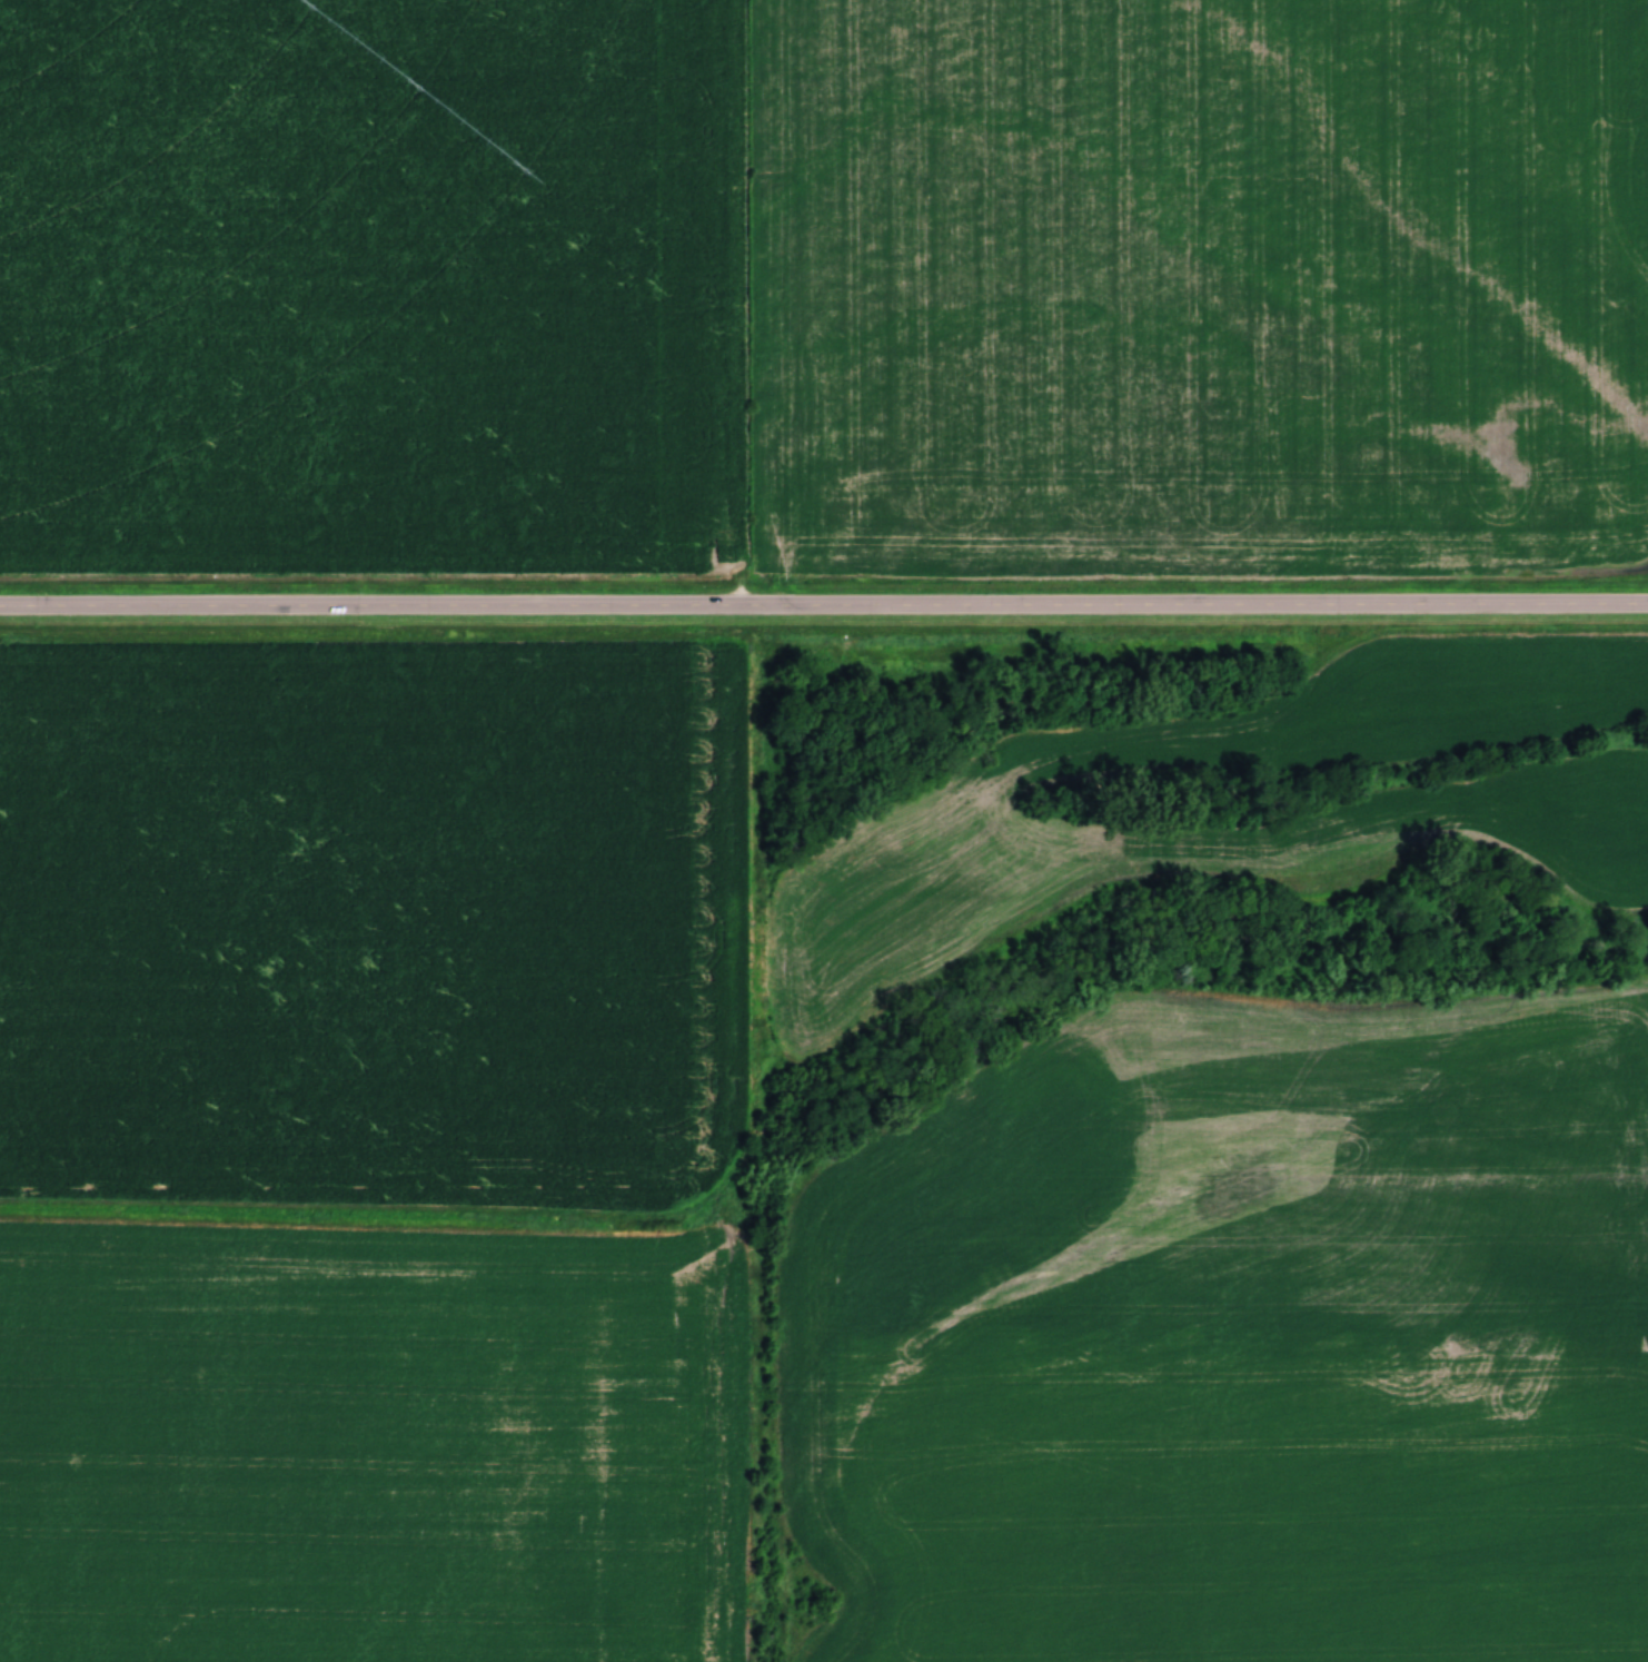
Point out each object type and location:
road: (824, 603)

